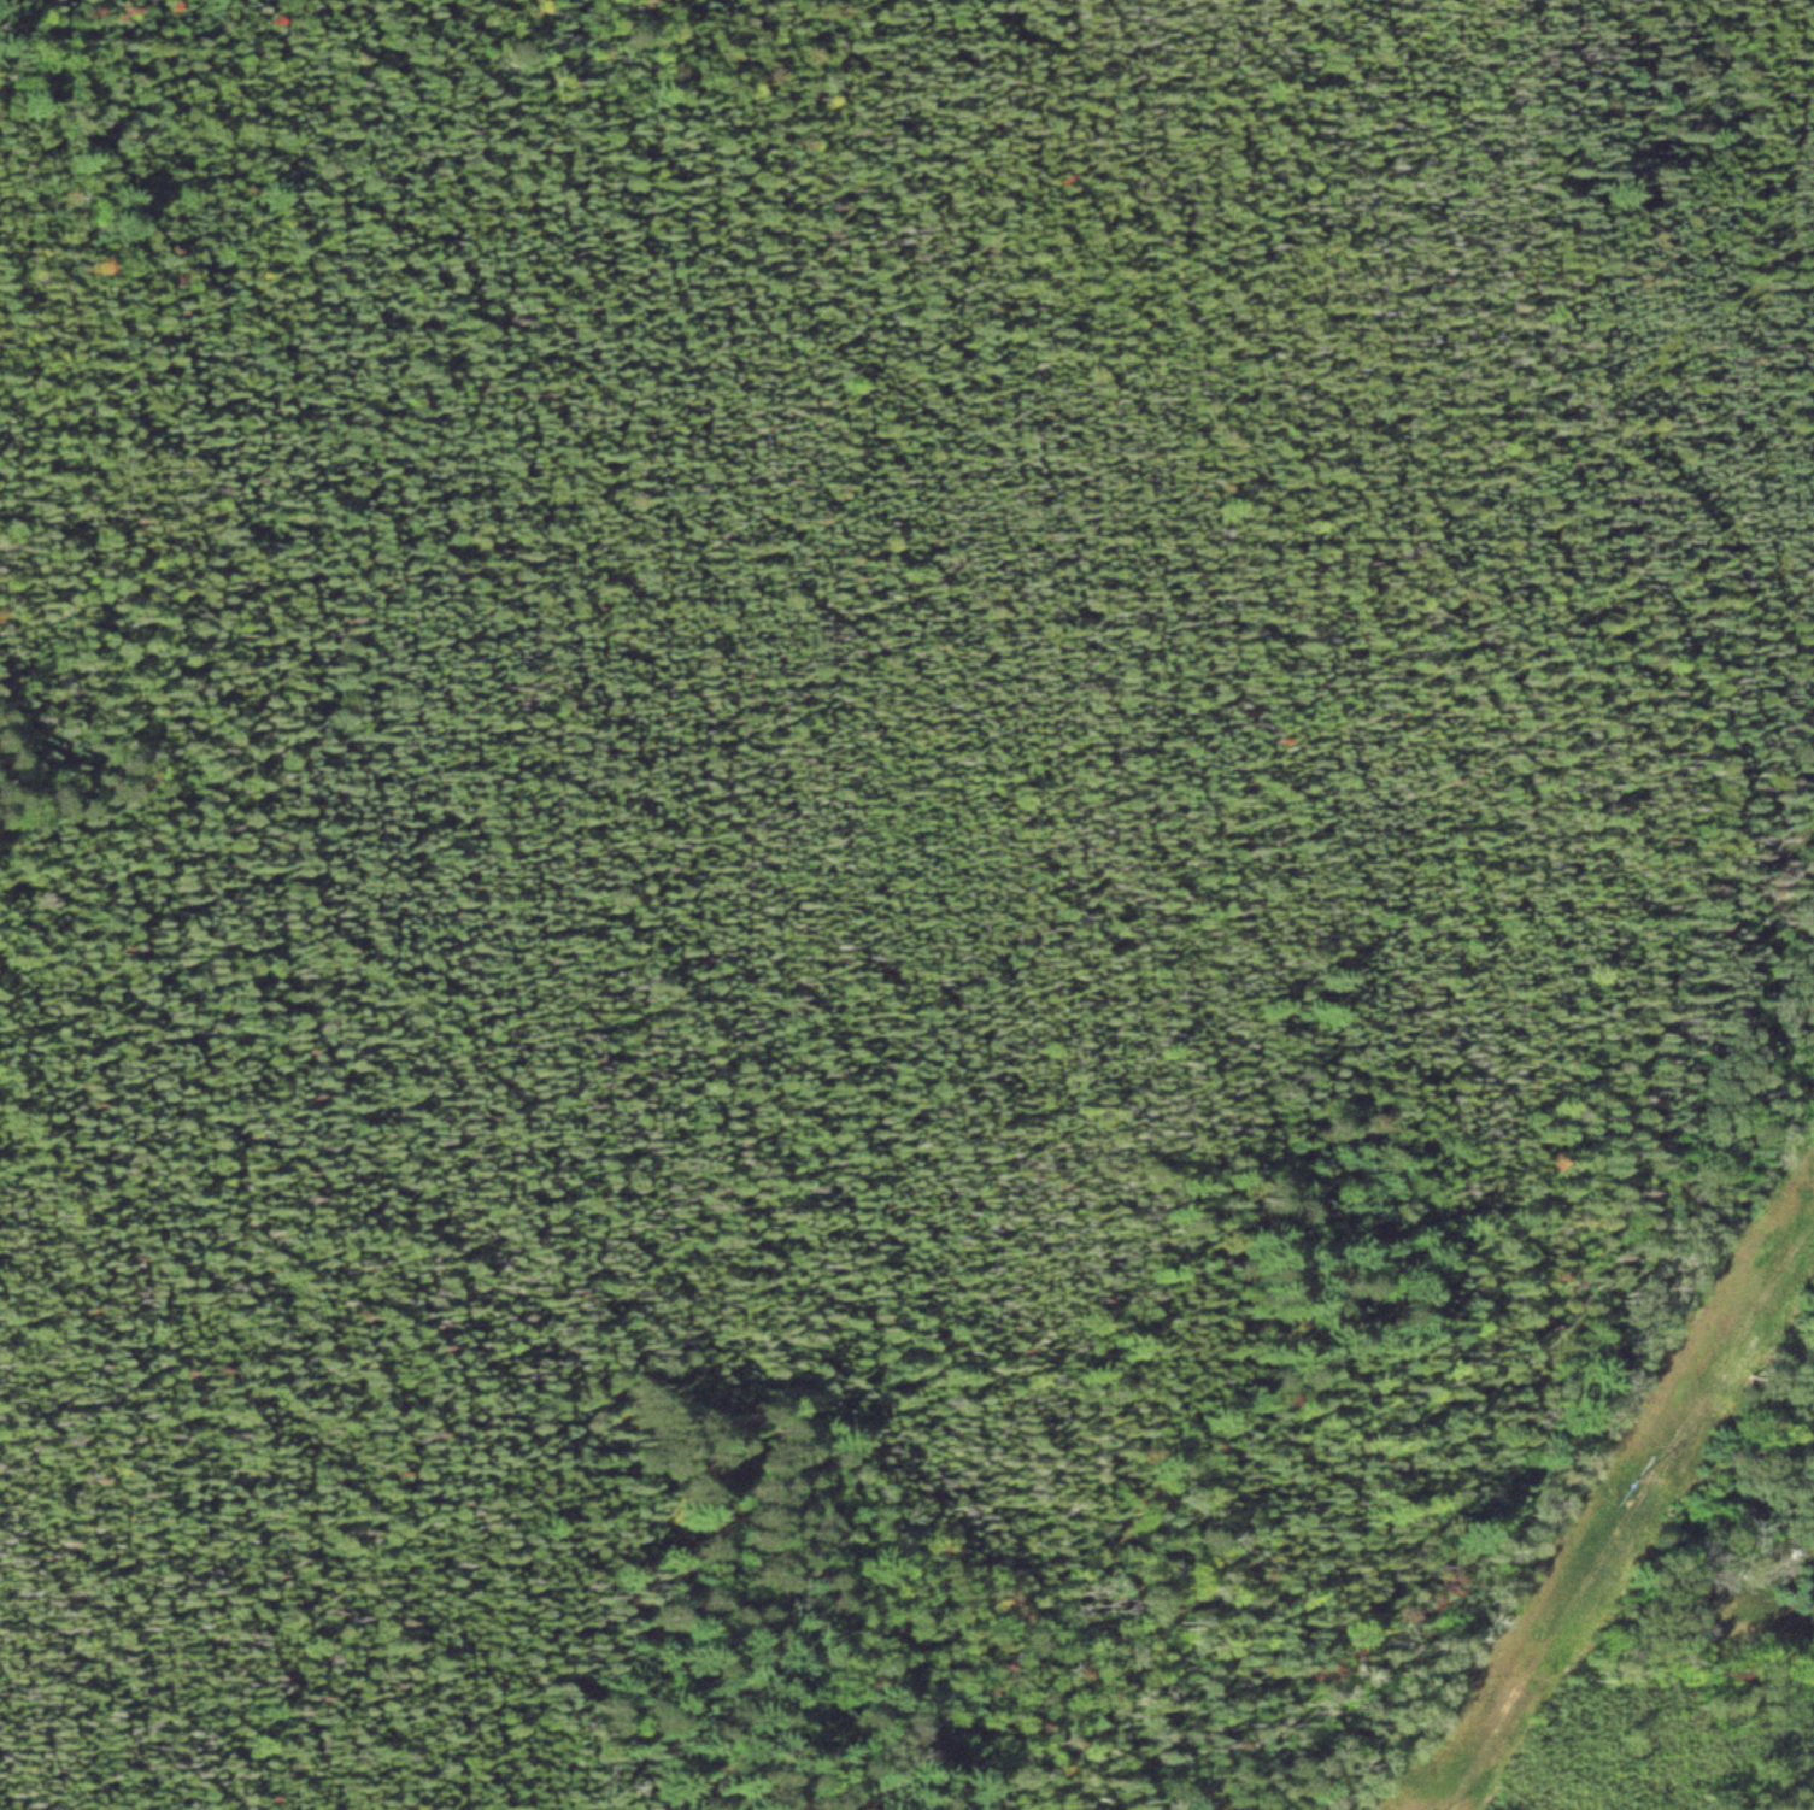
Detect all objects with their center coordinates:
road: (1627, 1524)

